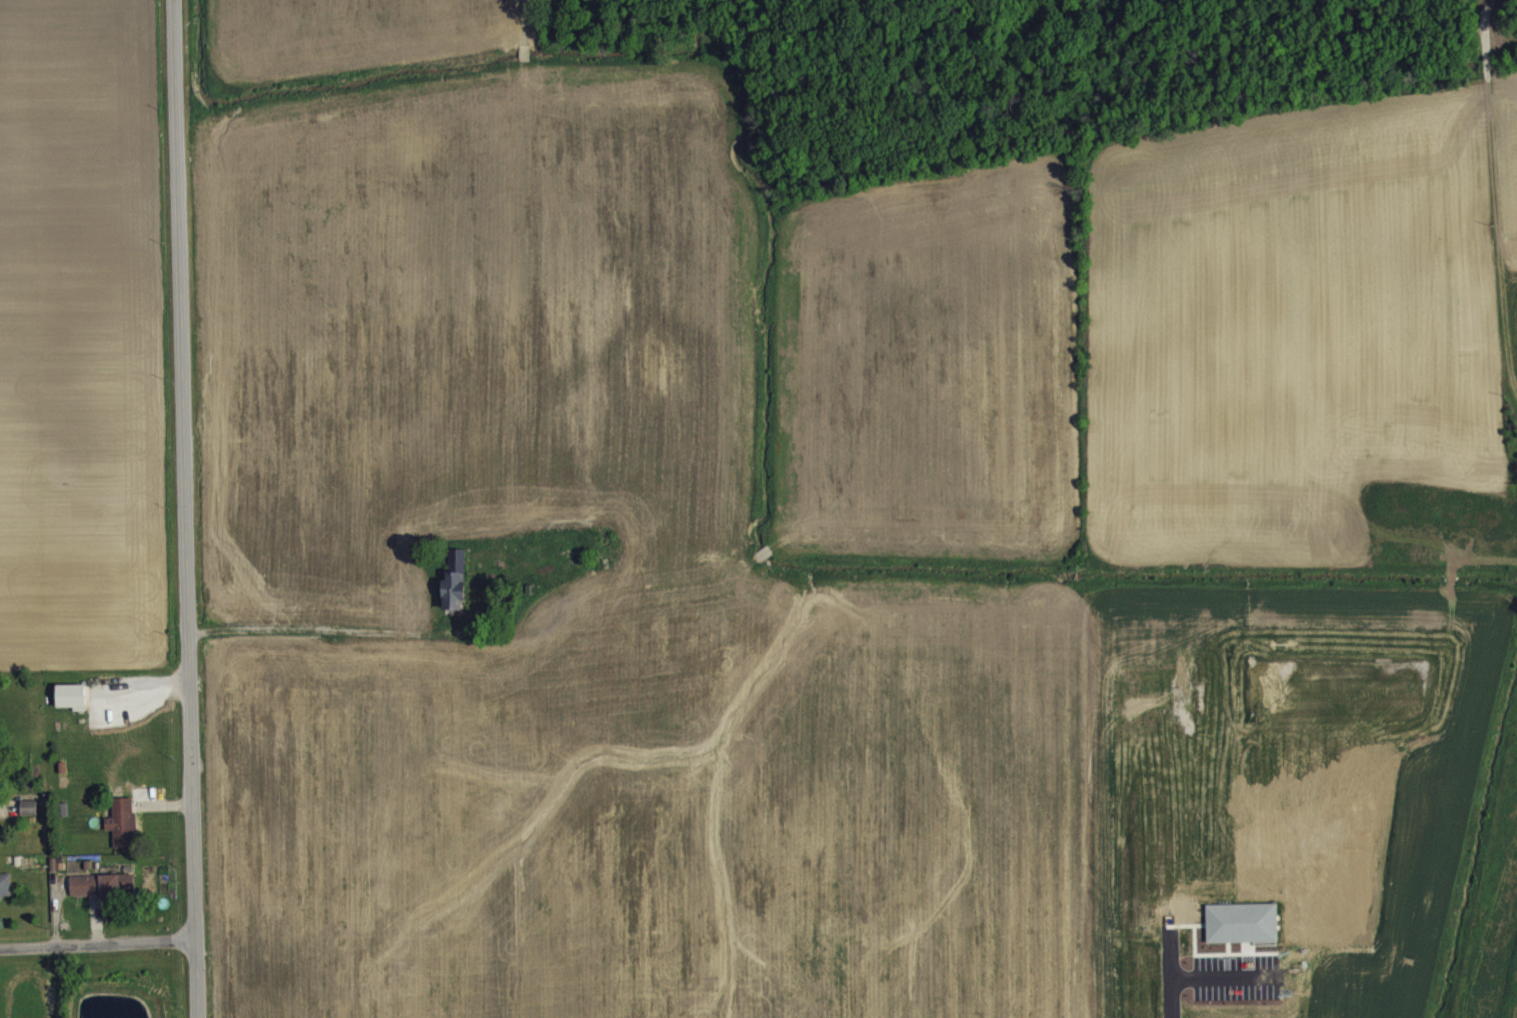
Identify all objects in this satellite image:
road: (181, 509)
building: (453, 578)
road: (326, 630)
building: (71, 694)
building: (73, 707)
building: (62, 779)
building: (27, 805)
building: (62, 807)
building: (29, 818)
building: (121, 820)
building: (51, 862)
building: (86, 863)
building: (59, 864)
building: (102, 882)
building: (4, 883)
building: (103, 895)
building: (1240, 921)
road: (96, 941)
road: (1168, 971)
parking lot: (1235, 975)
road: (1225, 976)

